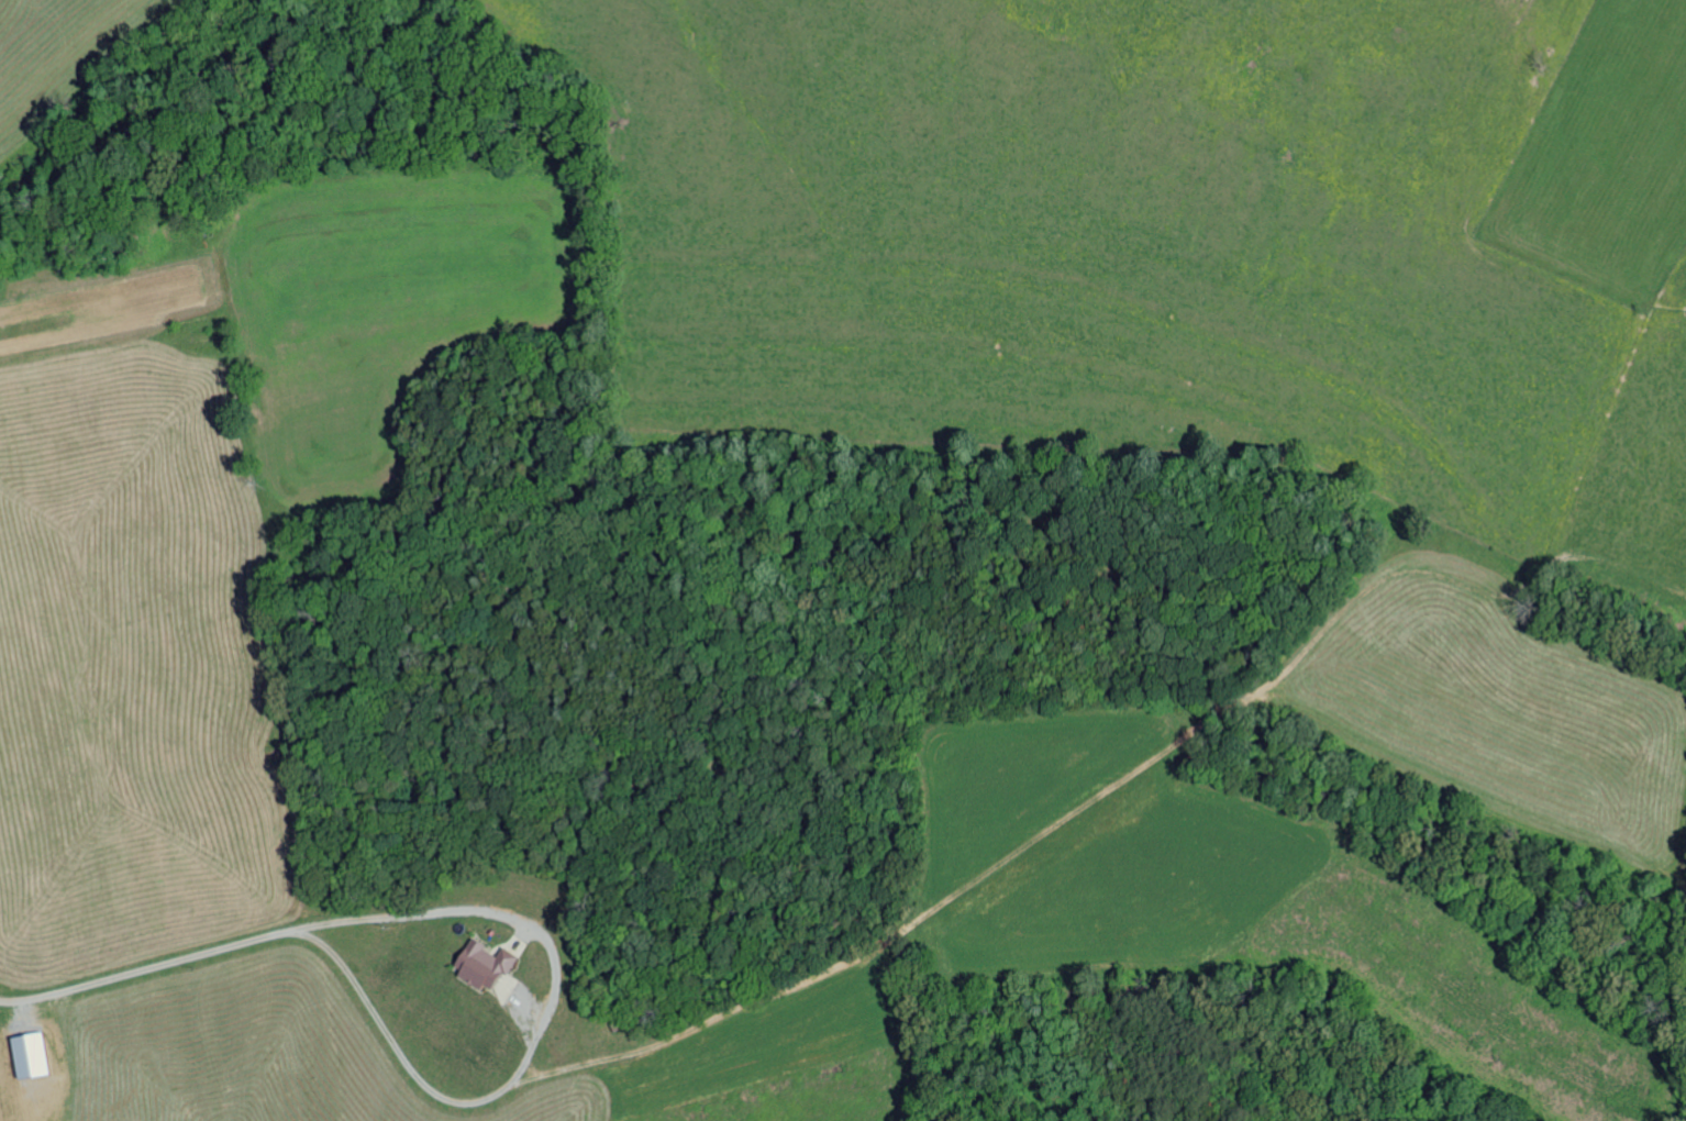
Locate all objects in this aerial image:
building: (482, 963)

